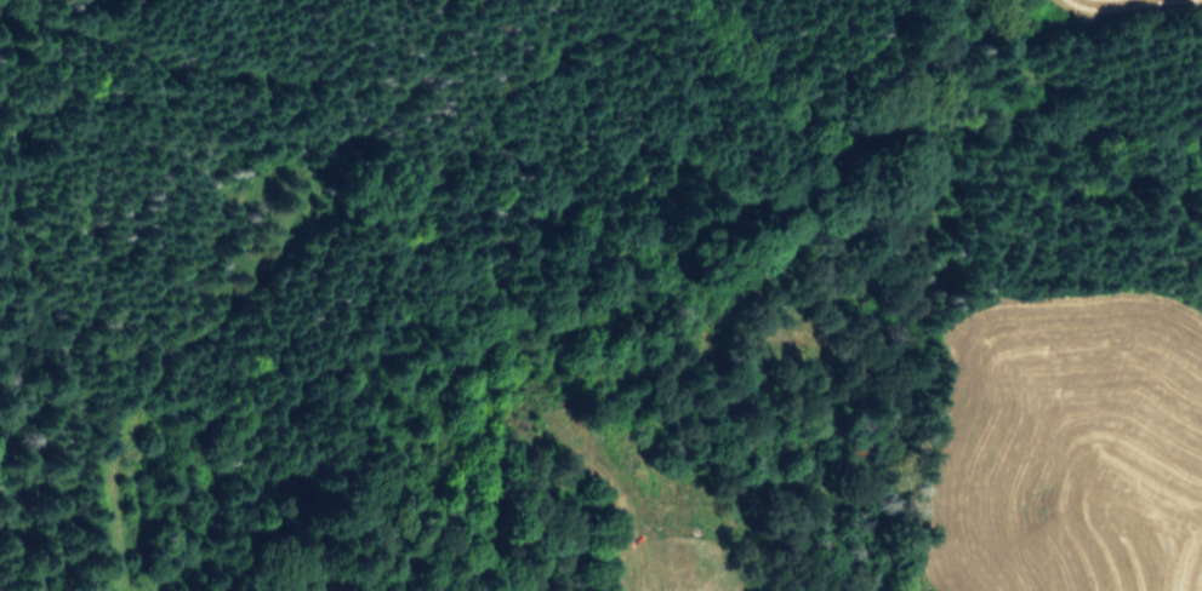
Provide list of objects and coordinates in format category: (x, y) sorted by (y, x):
crop: (1116, 18)
crop: (1042, 489)

